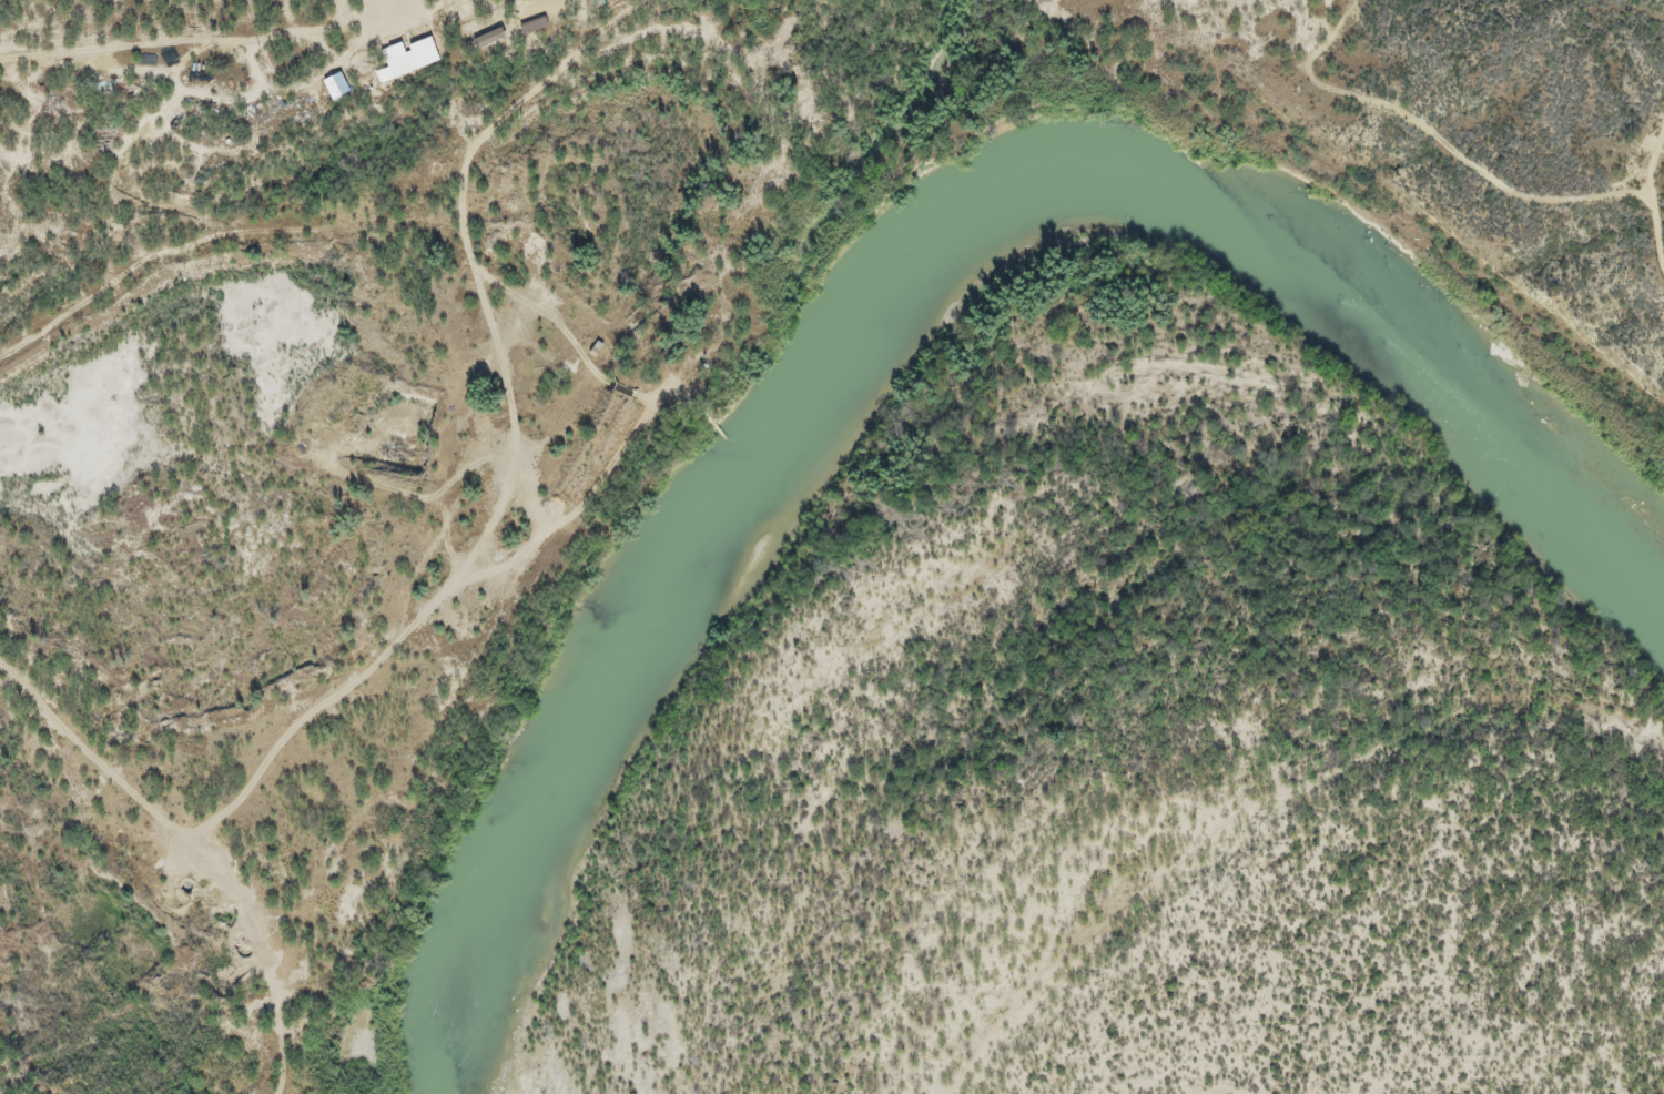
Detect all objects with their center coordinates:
road: (435, 44)
river: (1493, 422)
river: (772, 480)

